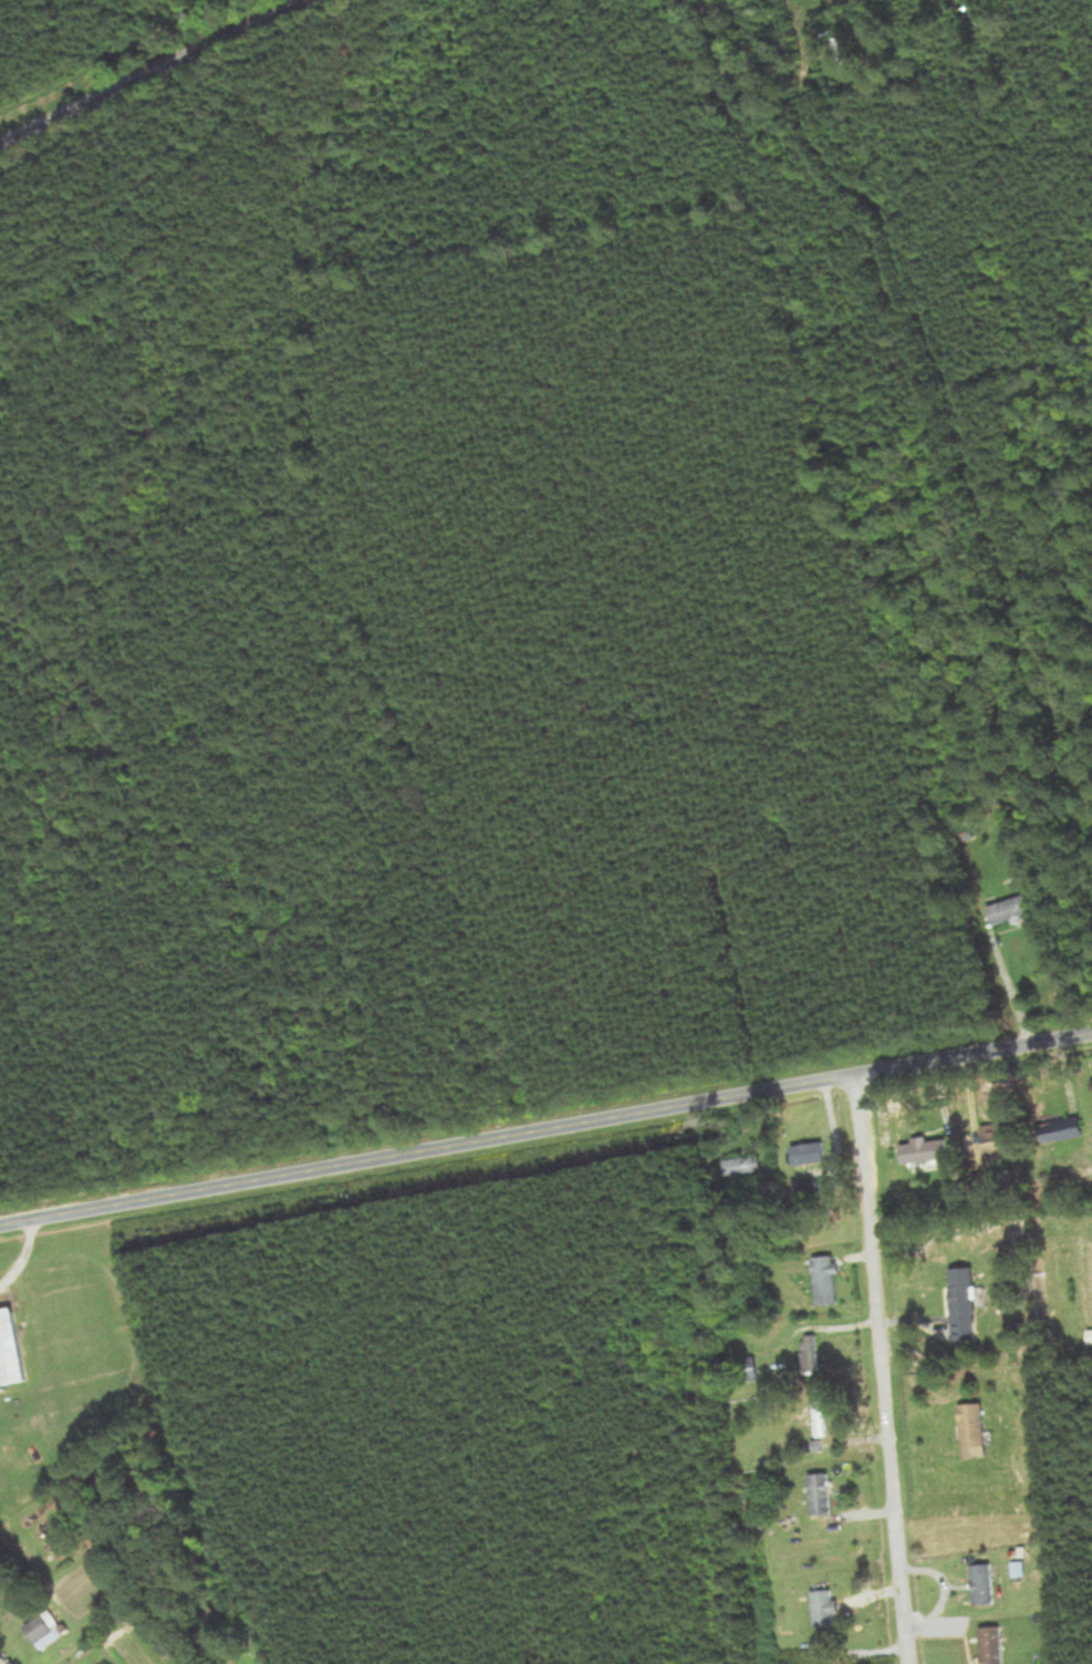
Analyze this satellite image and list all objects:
railway: (155, 72)
building: (1015, 909)
building: (1061, 1131)
road: (545, 1133)
building: (996, 1143)
building: (923, 1151)
building: (809, 1160)
building: (743, 1166)
building: (825, 1282)
building: (963, 1304)
building: (1090, 1337)
building: (9, 1350)
building: (810, 1355)
road: (884, 1370)
building: (973, 1432)
building: (820, 1496)
building: (982, 1585)
building: (823, 1605)
building: (43, 1631)
building: (991, 1645)
building: (842, 1661)

